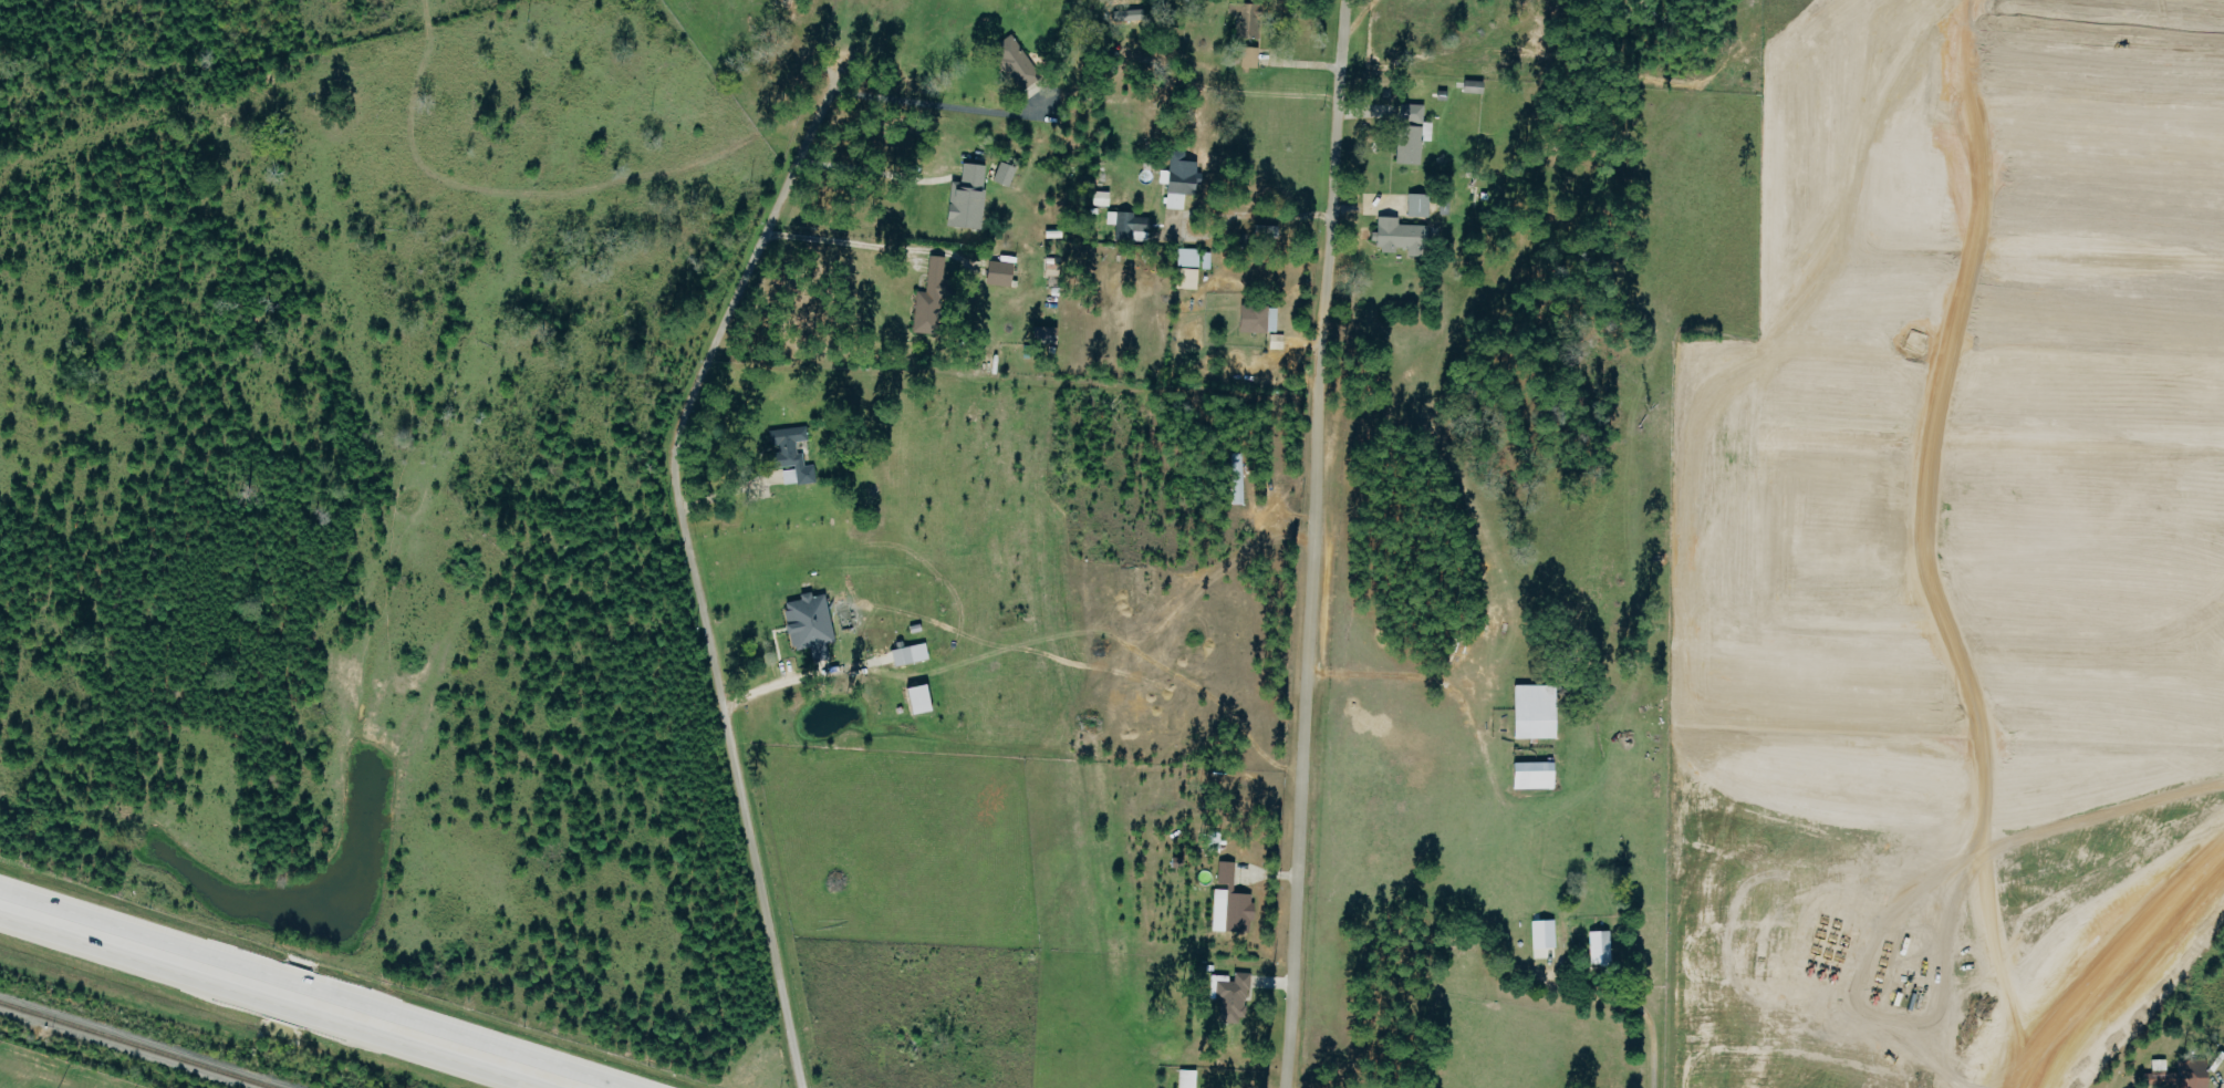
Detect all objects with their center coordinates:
building: (1126, 17)
building: (1247, 20)
park: (755, 54)
building: (1250, 58)
building: (1017, 62)
building: (1473, 87)
road: (1257, 93)
road: (924, 105)
building: (1411, 134)
building: (1005, 173)
road: (877, 178)
building: (1179, 179)
building: (968, 197)
building: (1102, 198)
building: (1420, 205)
road: (1265, 219)
building: (1129, 226)
building: (1268, 231)
building: (1403, 236)
road: (848, 248)
building: (1207, 260)
building: (1188, 268)
building: (1000, 272)
building: (931, 298)
building: (1259, 319)
building: (1048, 335)
building: (1277, 341)
building: (1919, 341)
building: (791, 455)
building: (1238, 478)
road: (1313, 543)
road: (1923, 546)
road: (696, 579)
building: (810, 624)
building: (911, 654)
road: (777, 684)
building: (921, 700)
building: (1537, 712)
building: (1536, 776)
building: (1227, 872)
building: (1233, 911)
building: (1545, 934)
building: (1601, 947)
road: (297, 989)
road: (1643, 1014)
railway: (133, 1046)
building: (2161, 1067)
building: (2193, 1074)
building: (1188, 1078)

